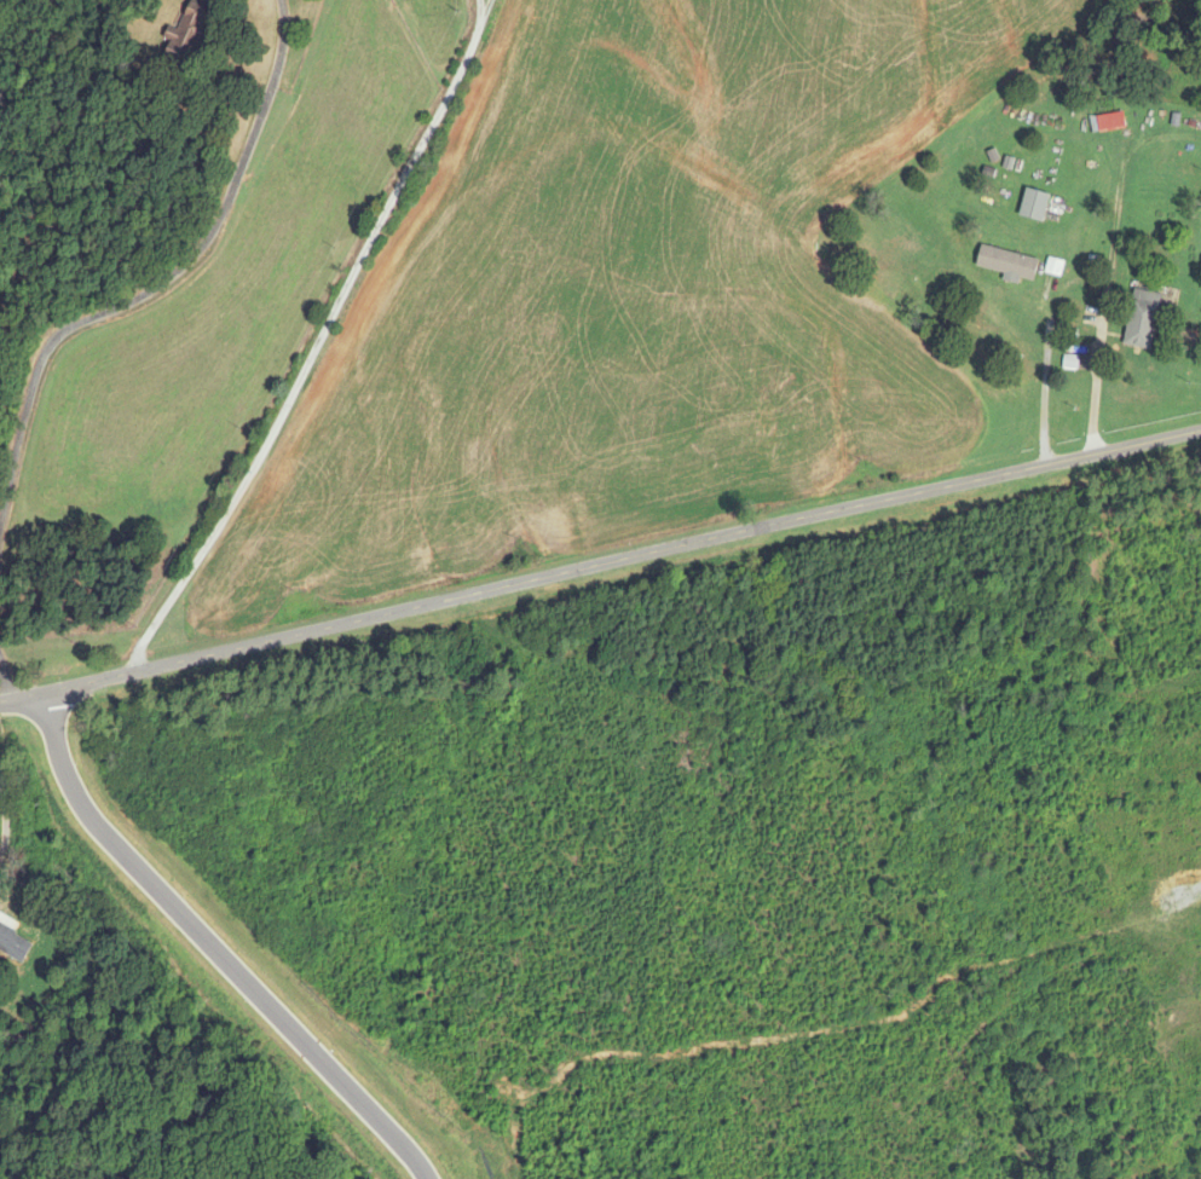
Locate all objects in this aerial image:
road: (484, 7)
building: (185, 35)
building: (1107, 122)
building: (1033, 204)
building: (1006, 264)
road: (155, 287)
building: (1141, 319)
road: (321, 340)
road: (1045, 375)
road: (1096, 380)
road: (600, 564)
road: (7, 670)
building: (13, 943)
road: (213, 948)

